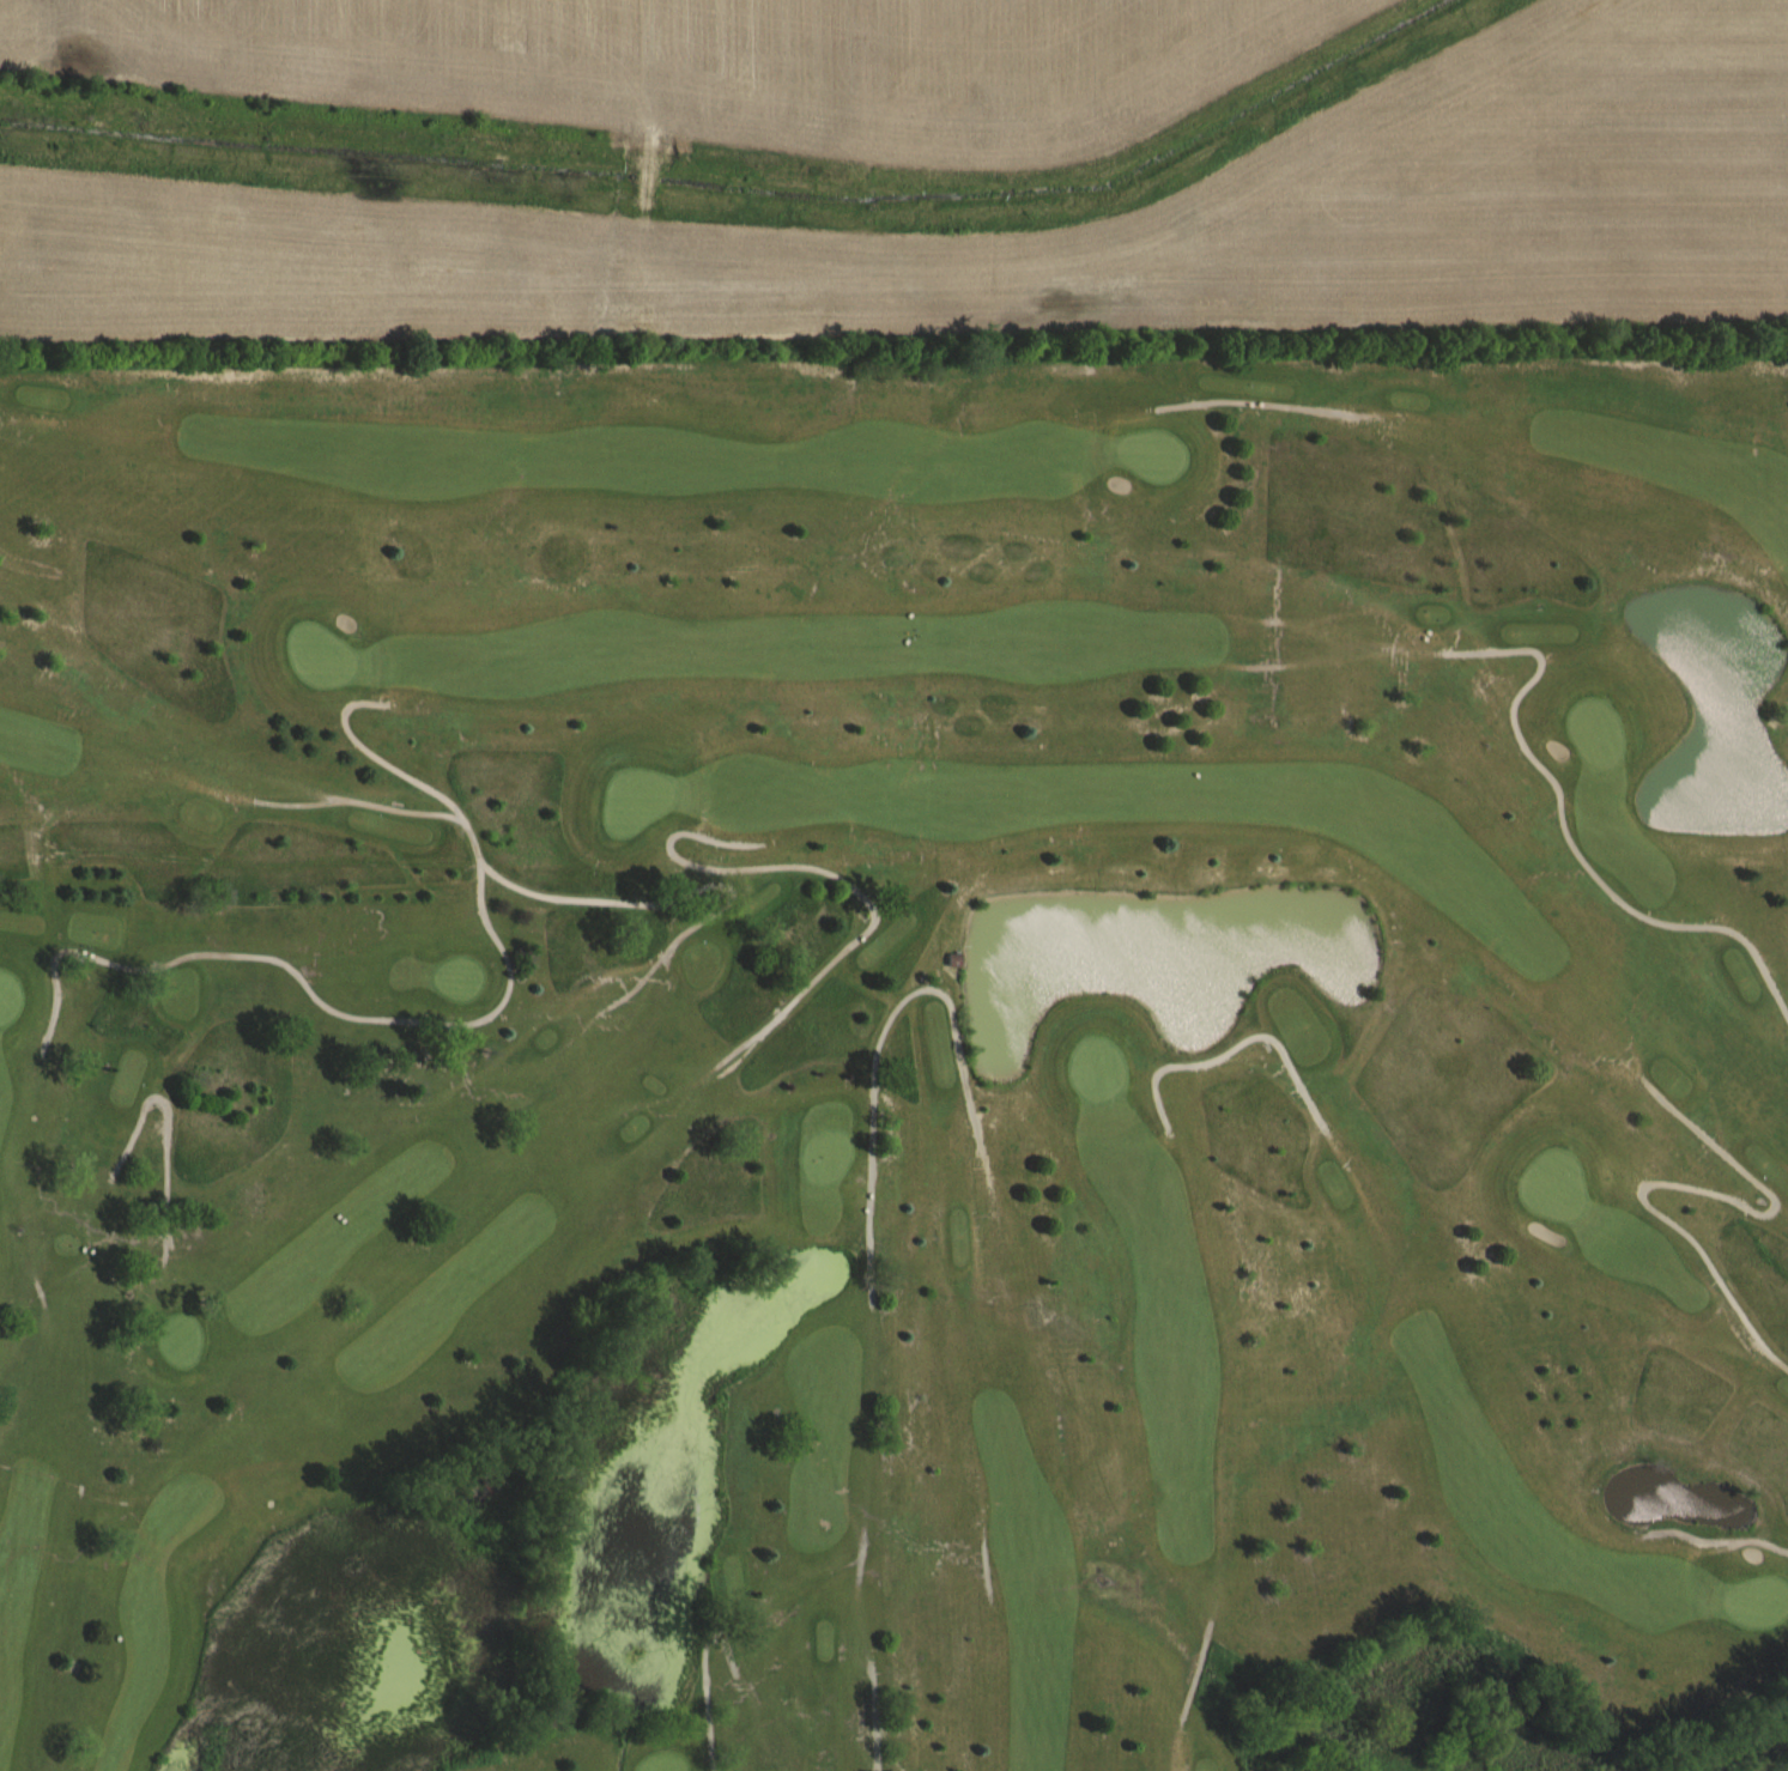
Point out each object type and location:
road: (1259, 405)
road: (383, 752)
road: (1560, 832)
road: (836, 865)
road: (660, 887)
road: (422, 1012)
road: (1277, 1037)
road: (166, 1120)
road: (1690, 1175)
road: (875, 1253)
road: (1722, 1530)
road: (708, 1662)
road: (1192, 1693)

